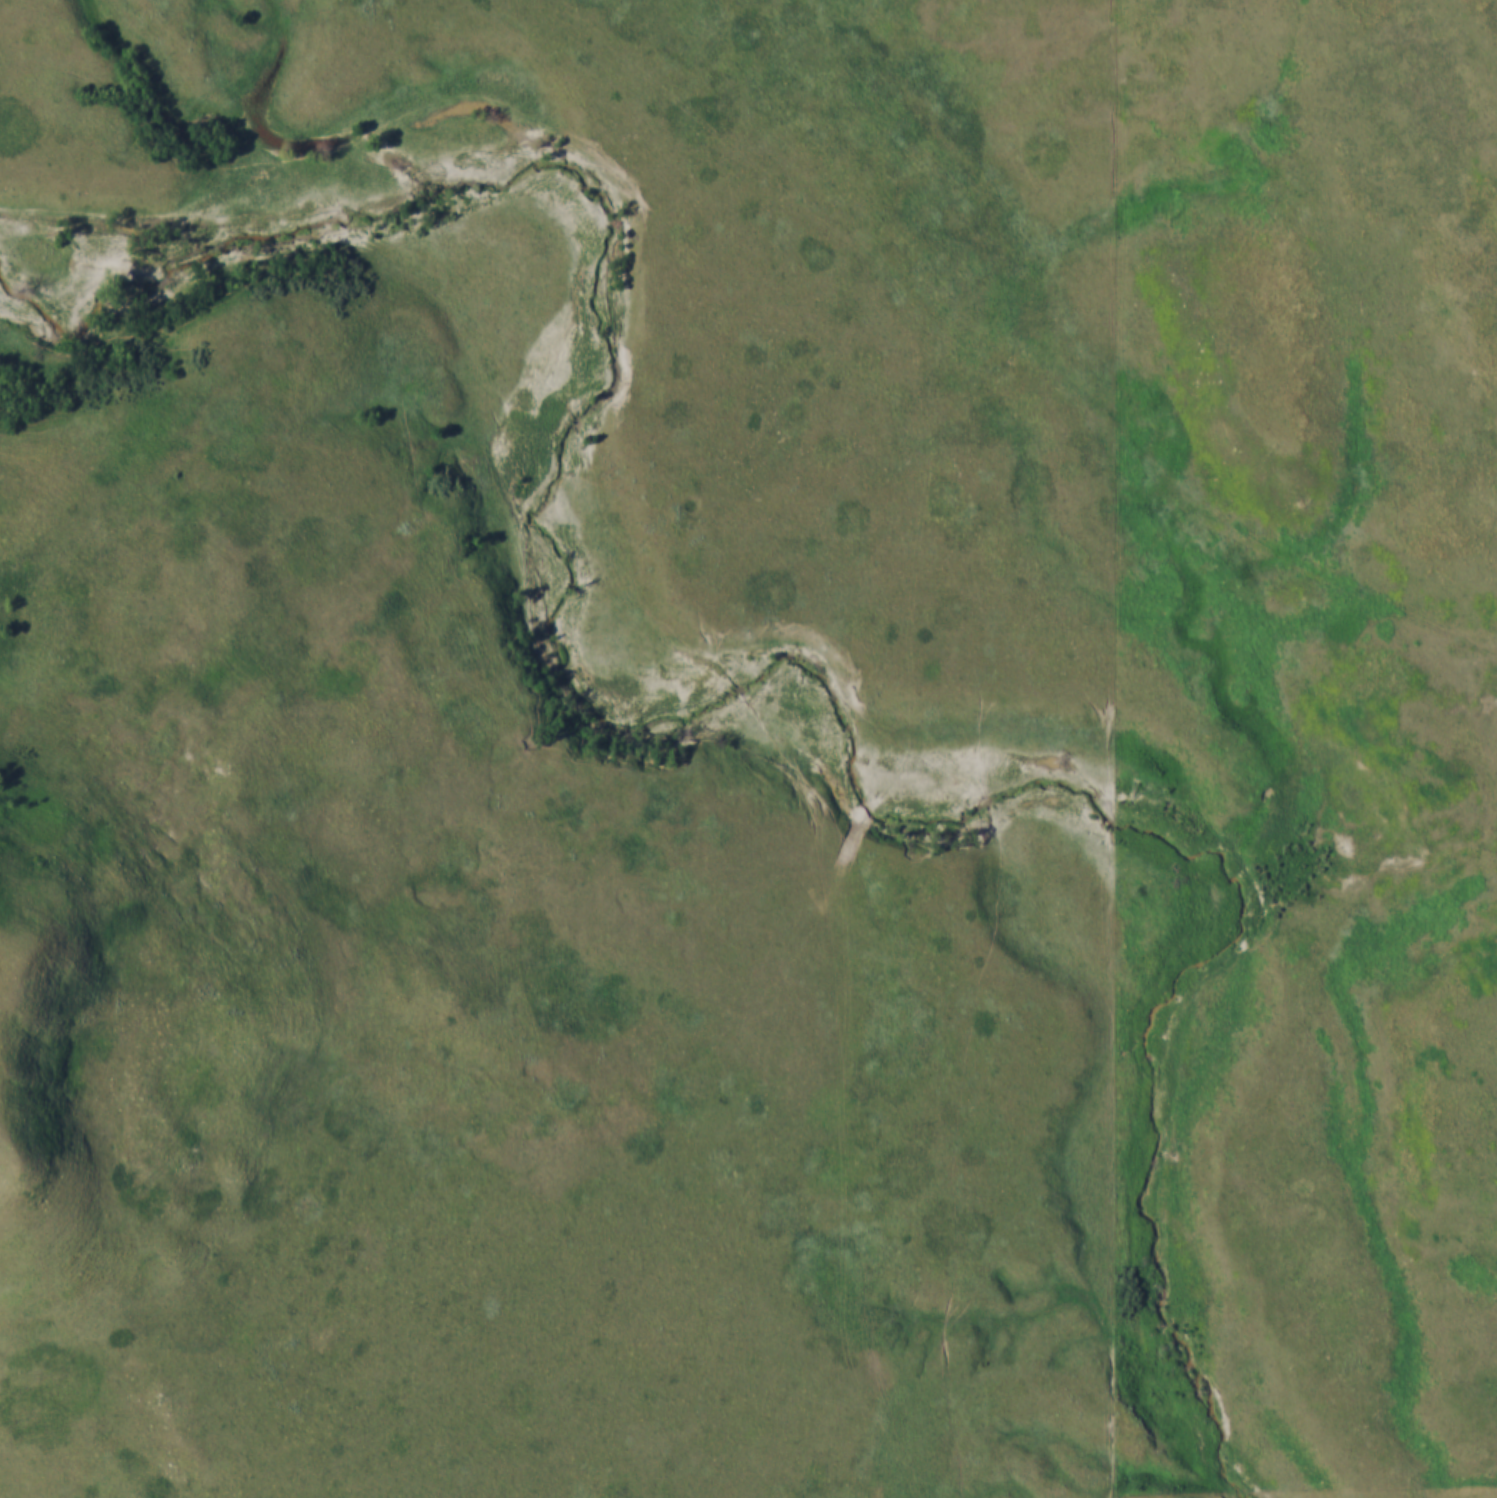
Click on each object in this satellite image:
road: (1118, 749)
road: (1307, 1485)

